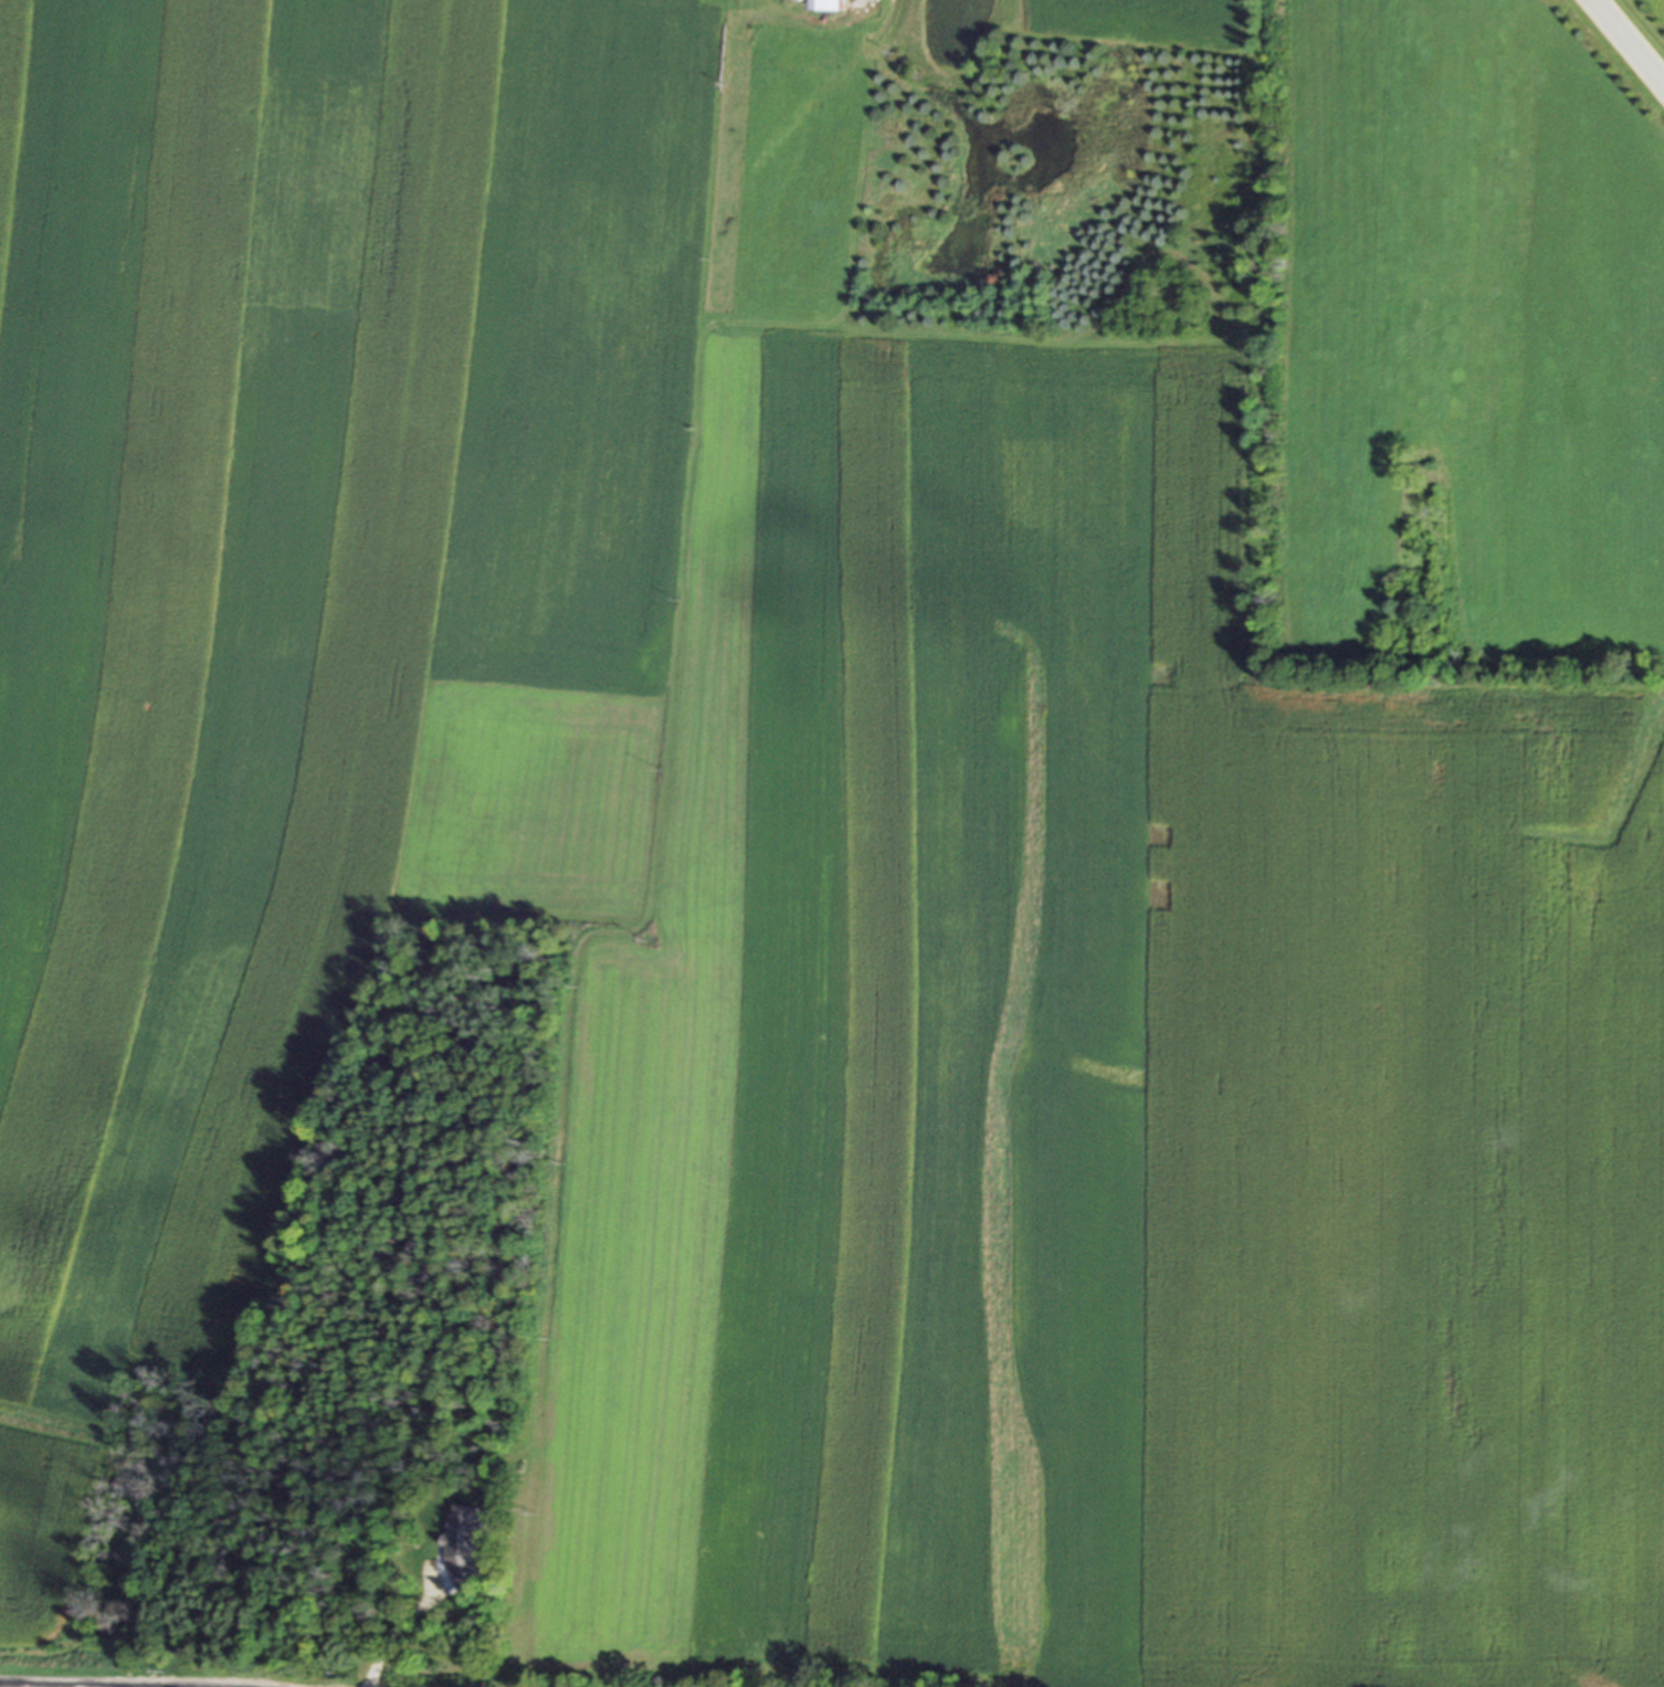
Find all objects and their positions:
building: (825, 4)
road: (1628, 42)
road: (392, 1627)
road: (56, 1685)

